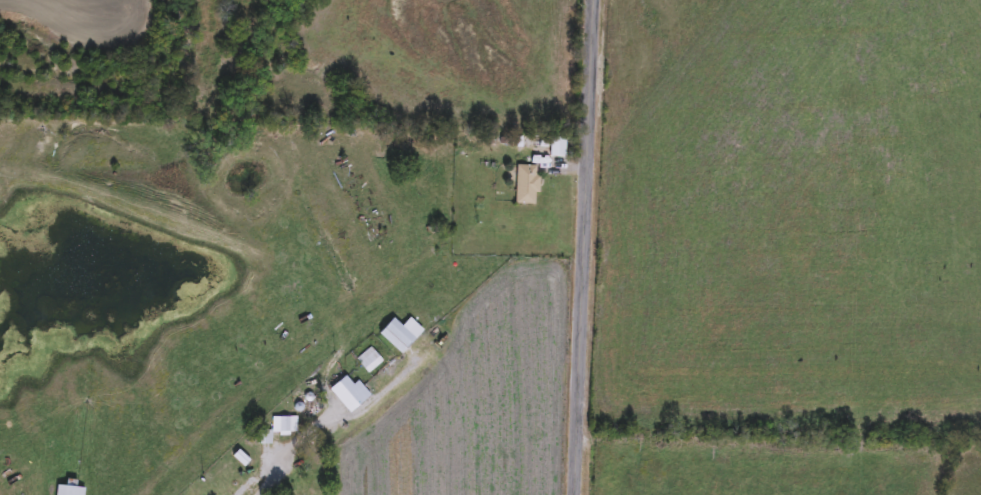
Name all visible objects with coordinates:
building: (526, 186)
road: (581, 247)
building: (395, 336)
building: (369, 360)
building: (349, 393)
building: (283, 426)
building: (263, 438)
road: (286, 460)
building: (69, 490)

